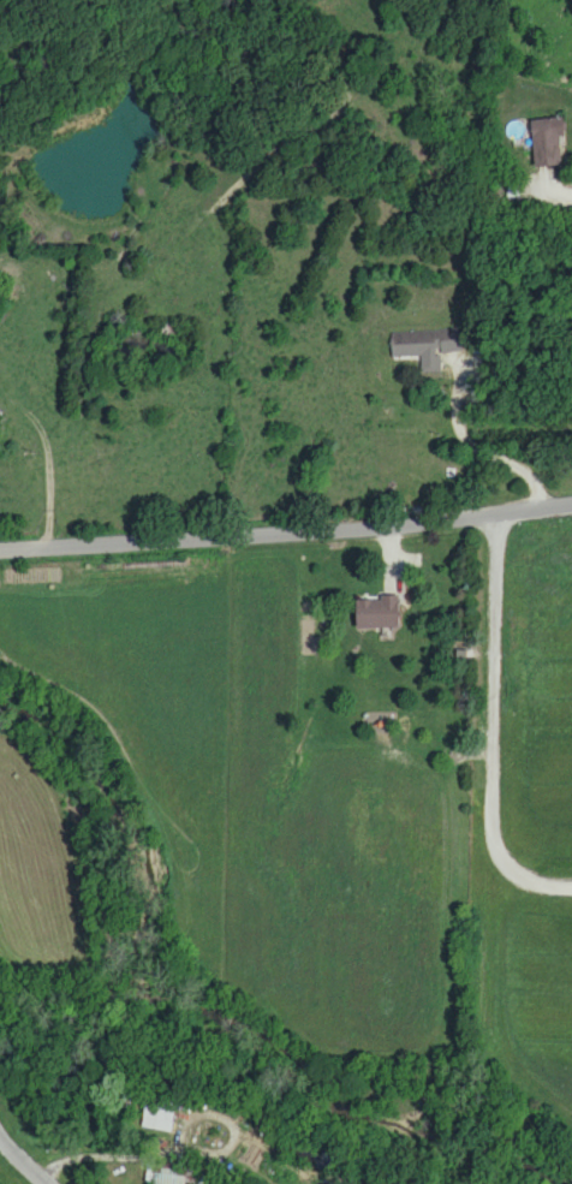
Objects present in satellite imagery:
building: (544, 139)
road: (553, 182)
building: (424, 345)
road: (469, 446)
road: (286, 537)
building: (375, 611)
road: (20, 1164)
building: (169, 1173)

